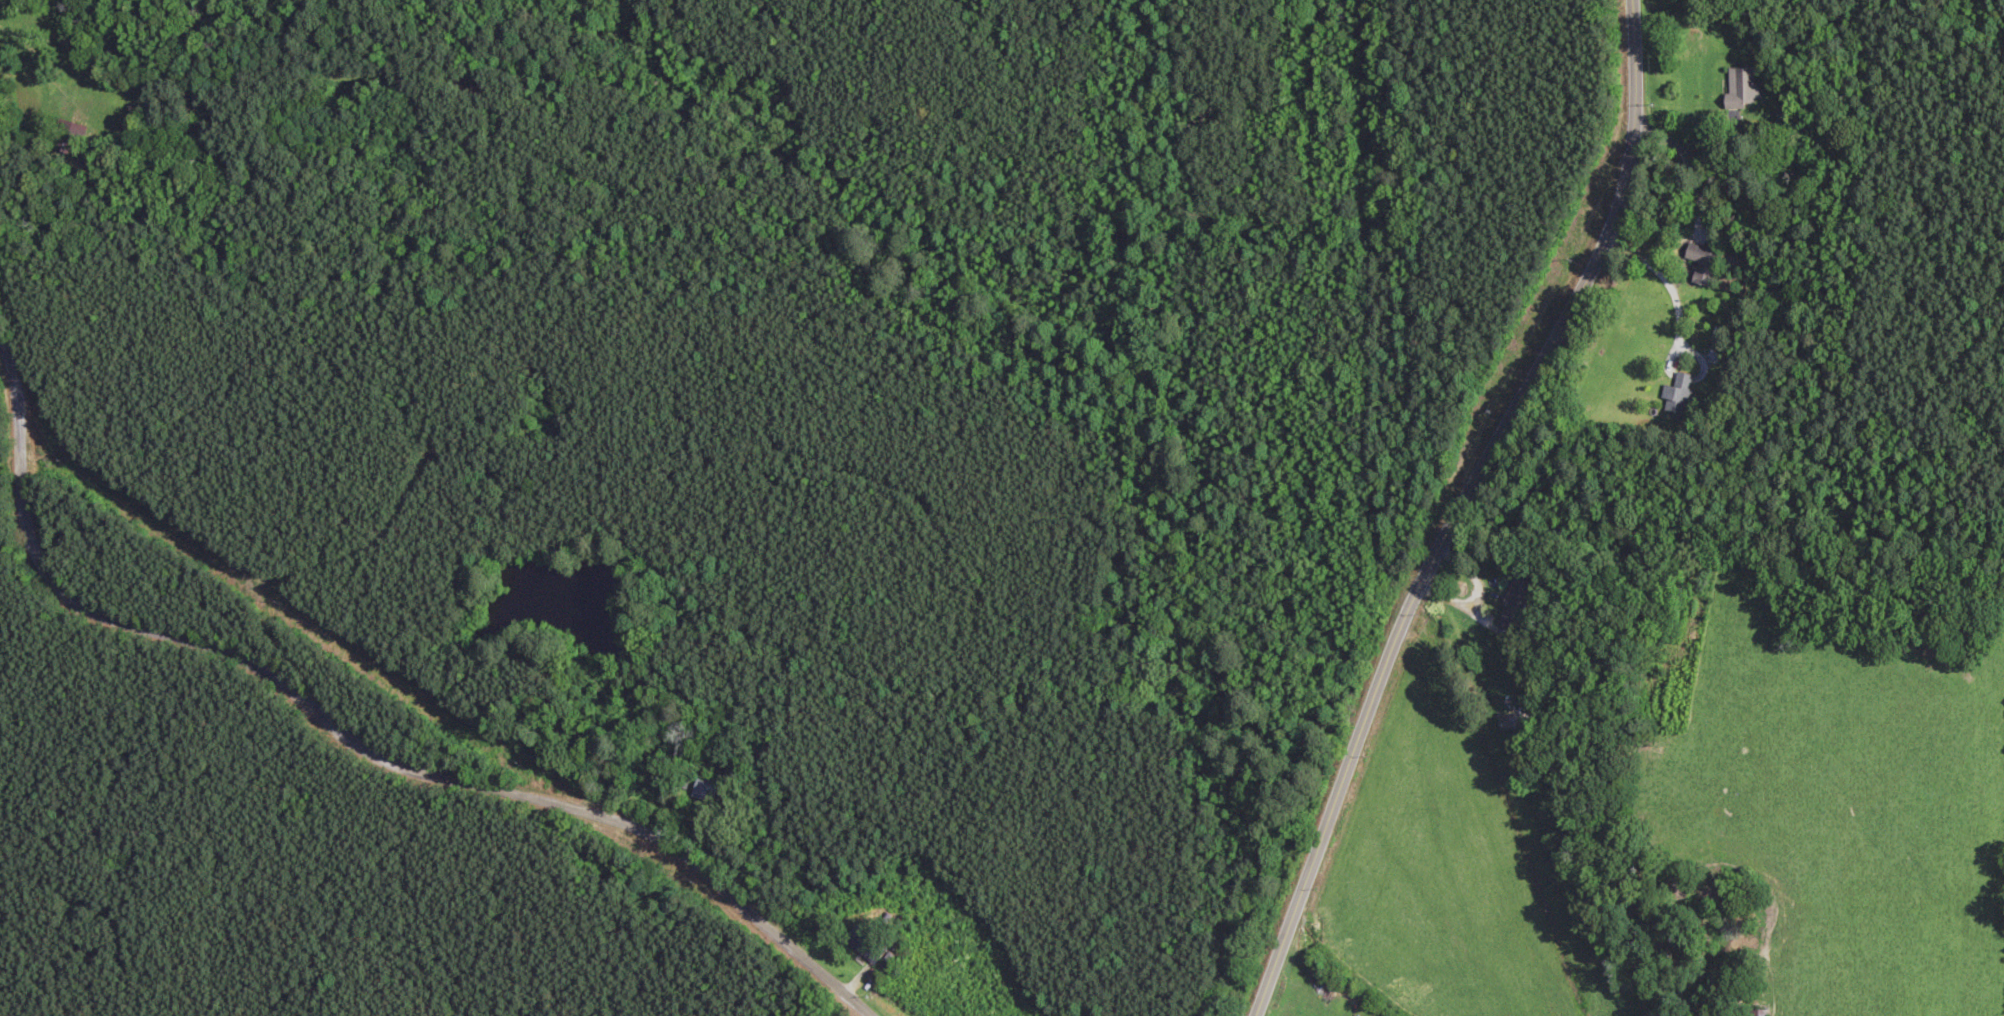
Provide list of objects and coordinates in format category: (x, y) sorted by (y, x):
building: (1742, 89)
building: (71, 135)
building: (1701, 265)
building: (1677, 396)
road: (1484, 518)
building: (1513, 606)
road: (321, 719)
building: (1511, 722)
building: (703, 789)

